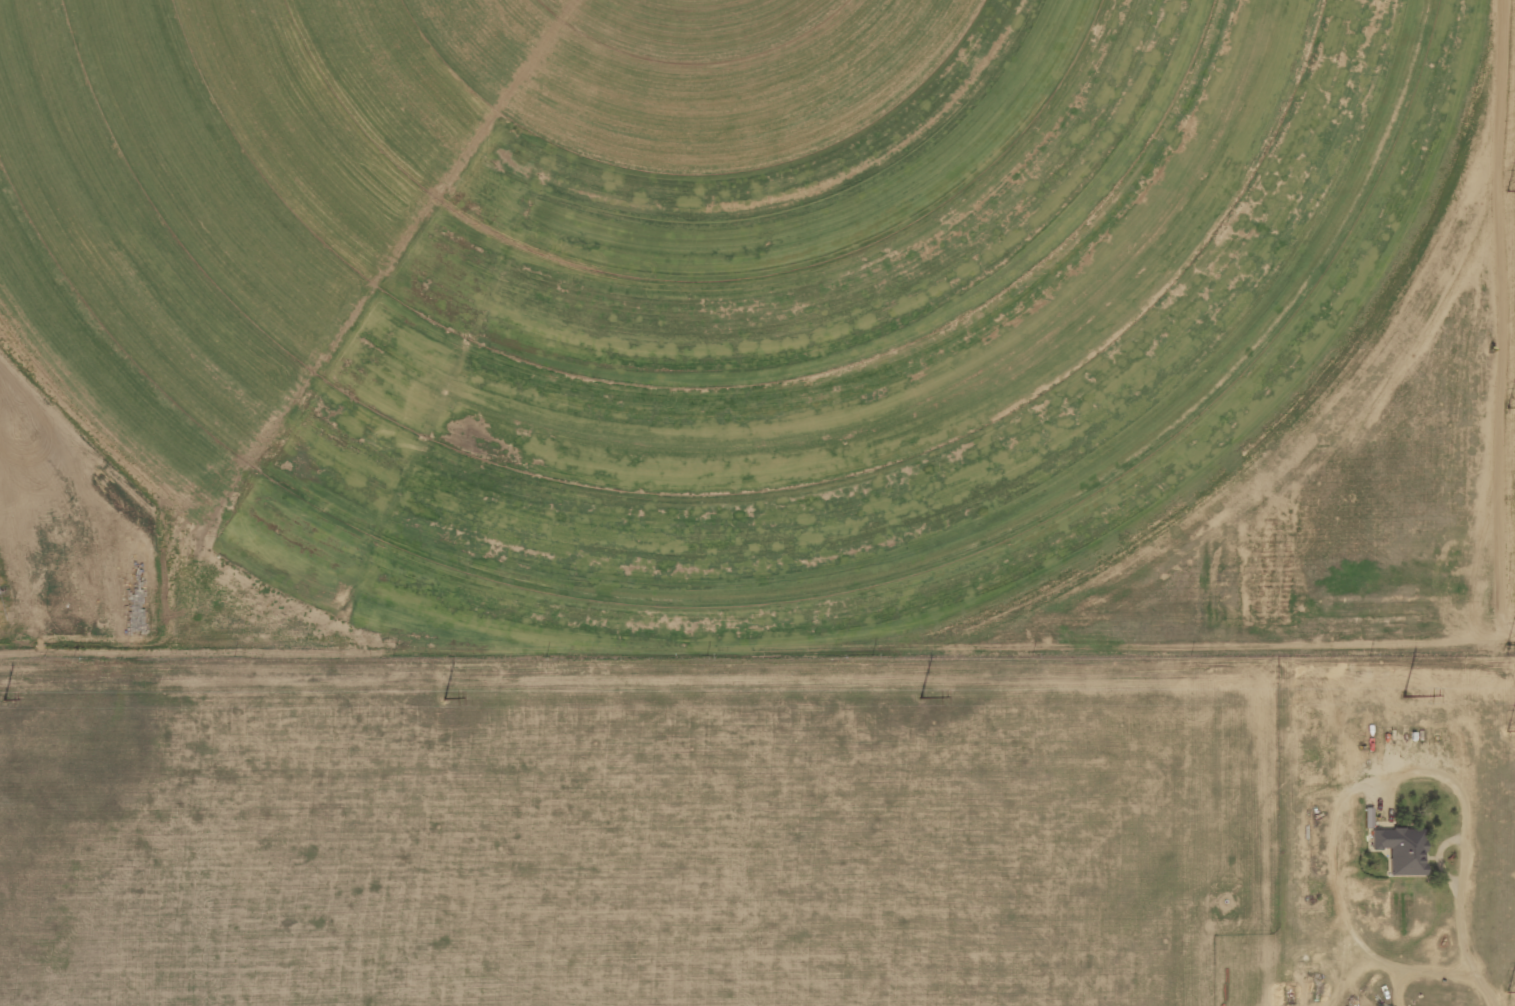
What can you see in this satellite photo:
power tower: (1509, 189)
power tower: (1510, 491)
road: (757, 684)
power tower: (1404, 695)
power tower: (920, 696)
power tower: (443, 697)
power tower: (3, 698)
power tower: (1509, 791)
building: (1401, 849)

